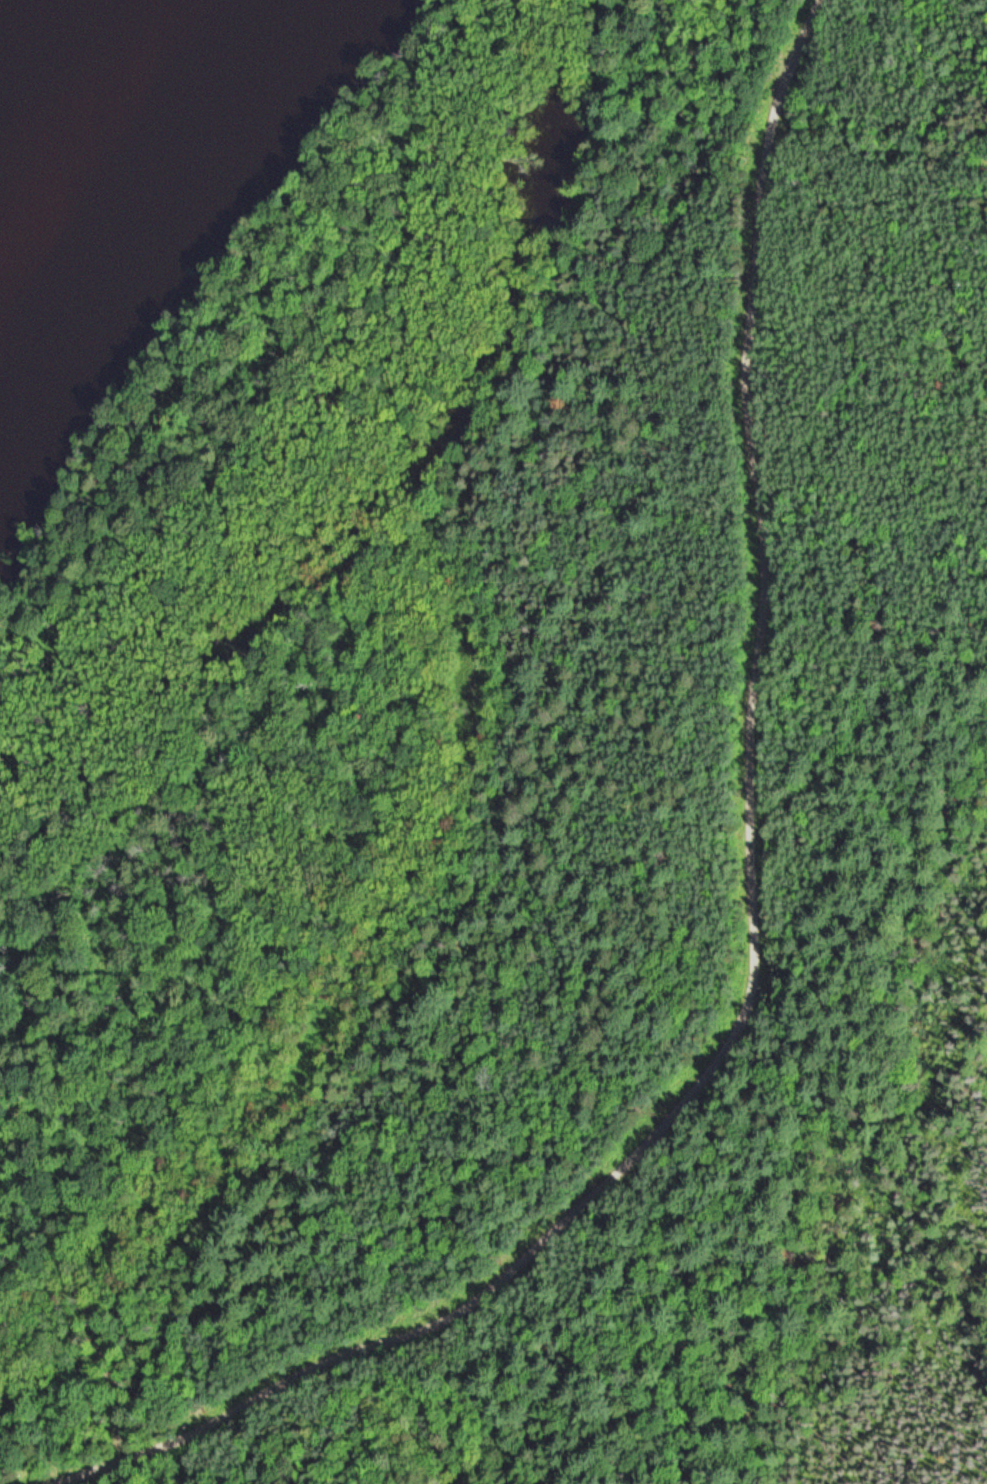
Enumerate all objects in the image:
river: (94, 132)
road: (758, 930)

